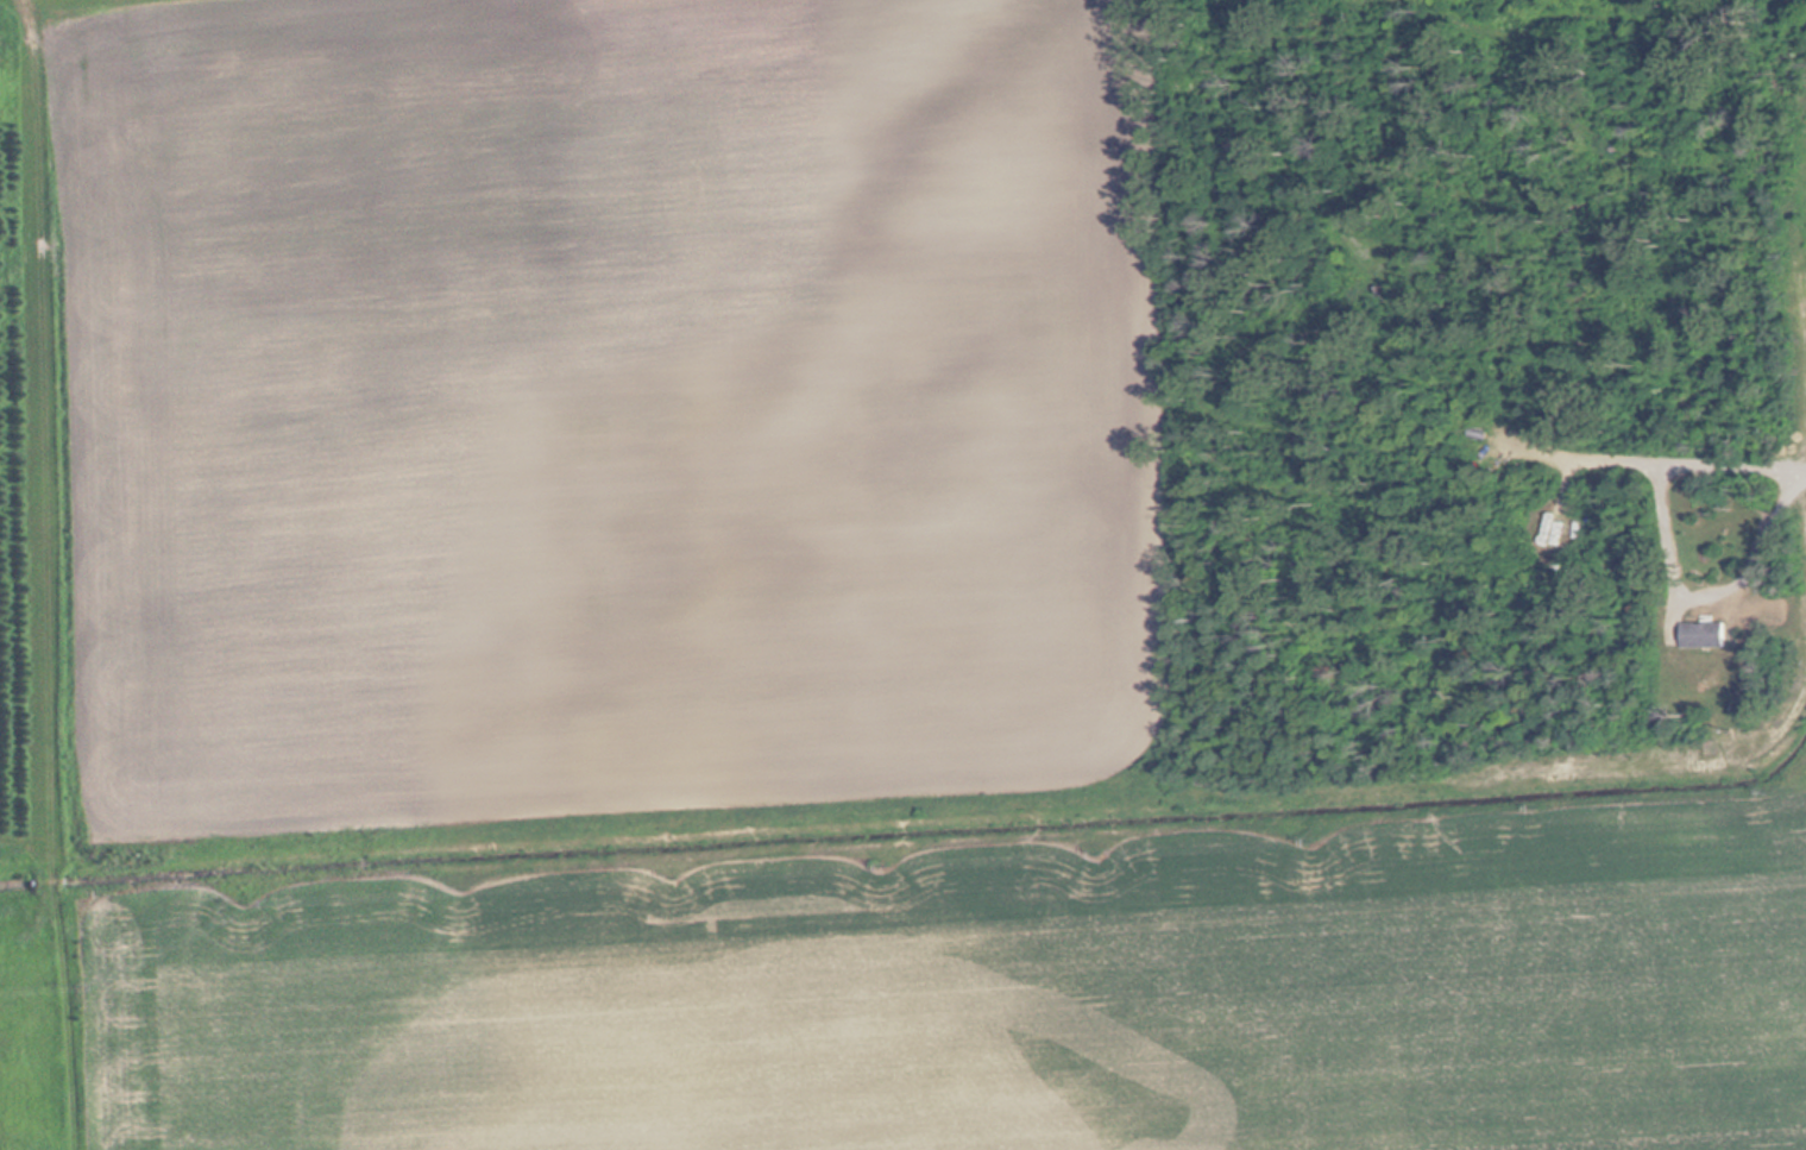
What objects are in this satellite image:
building: (1706, 635)

